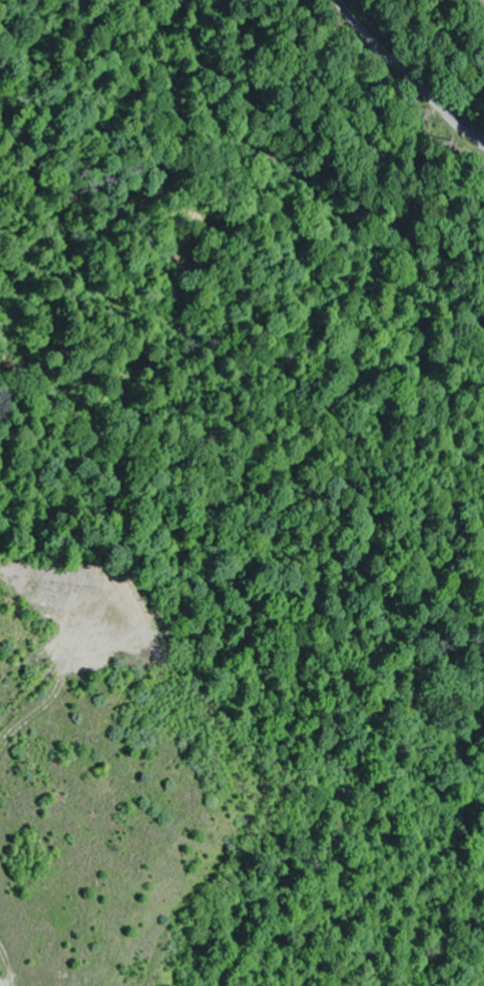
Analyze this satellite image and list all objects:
road: (407, 75)

